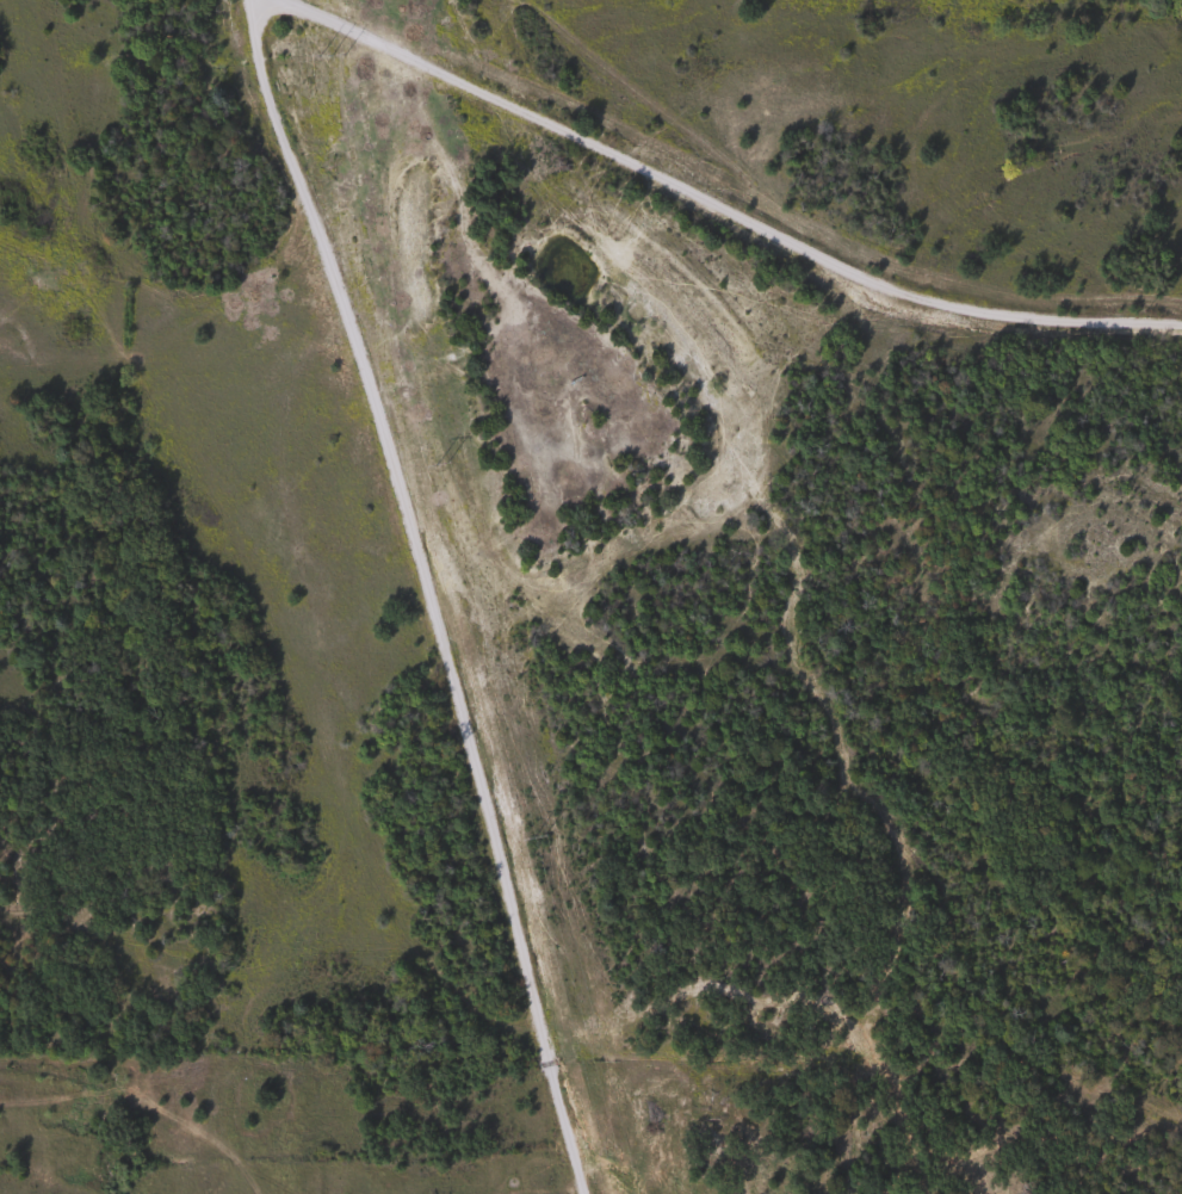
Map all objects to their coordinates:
power tower: (329, 57)
road: (707, 200)
power tower: (440, 465)
road: (427, 592)
power tower: (539, 839)

